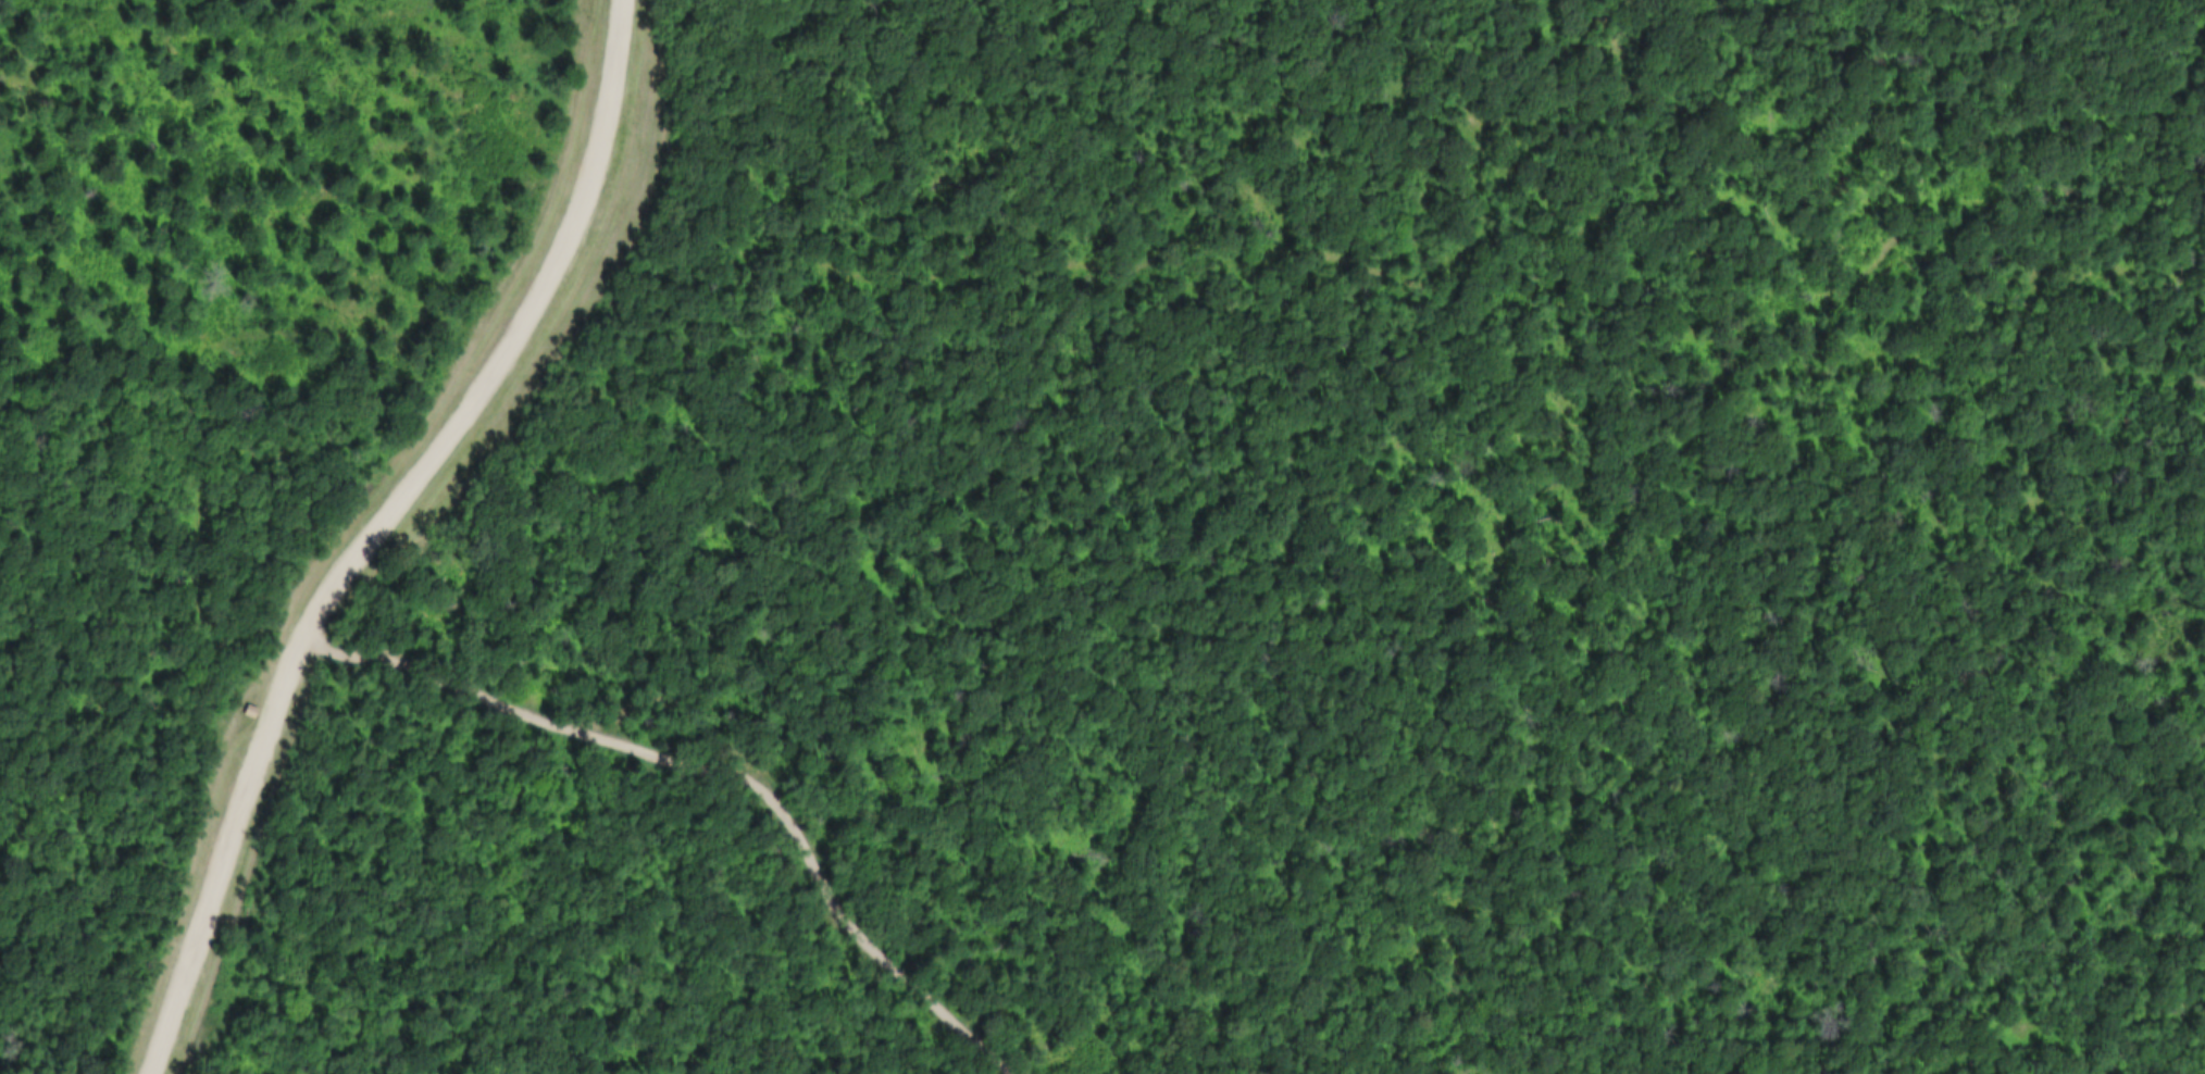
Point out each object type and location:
road: (378, 527)
building: (245, 712)
road: (708, 778)

